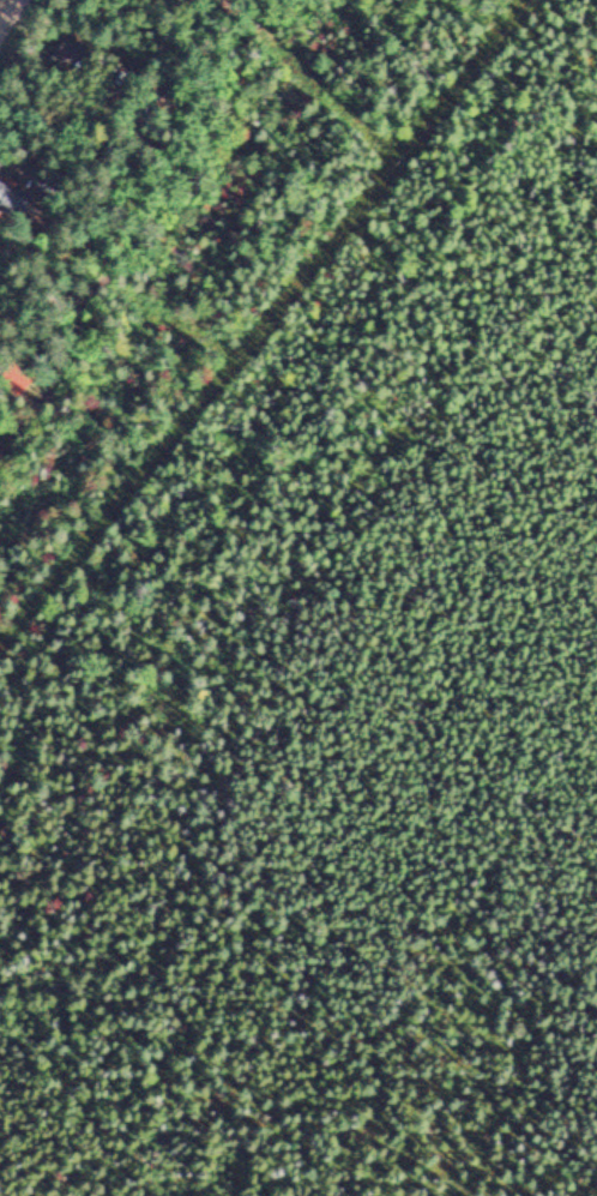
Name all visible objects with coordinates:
road: (68, 210)

